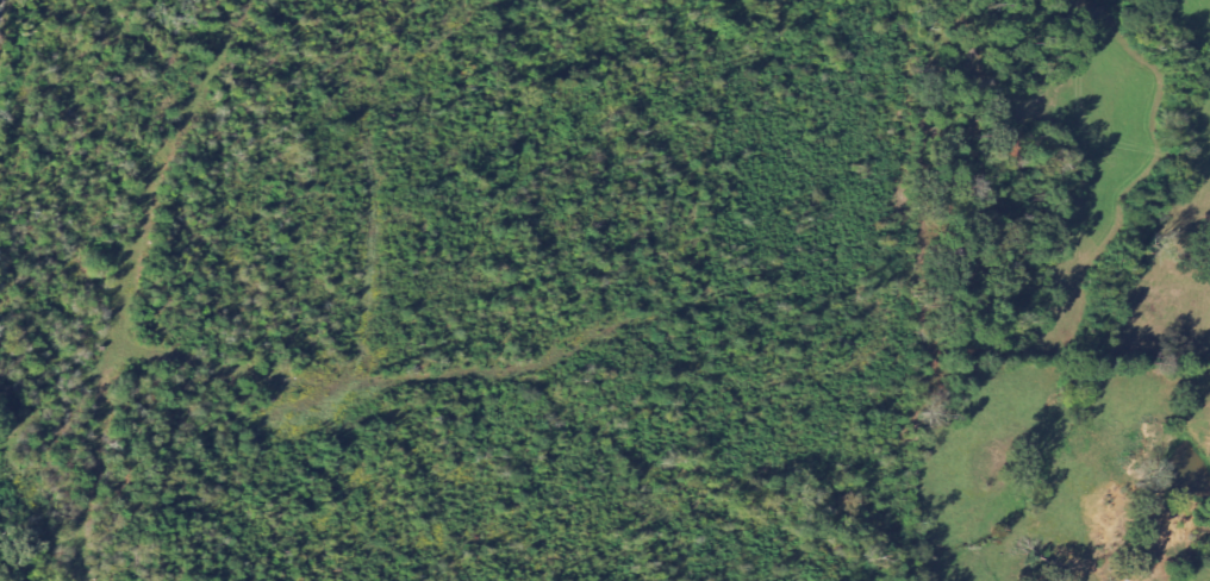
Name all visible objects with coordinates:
road: (607, 519)
road: (800, 545)

